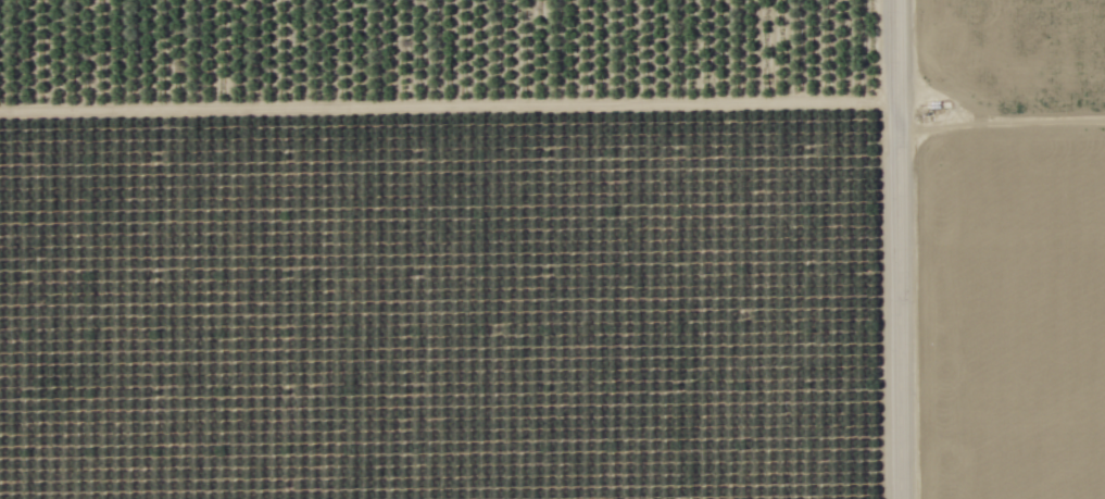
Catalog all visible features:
road: (900, 249)
crop: (1014, 250)

